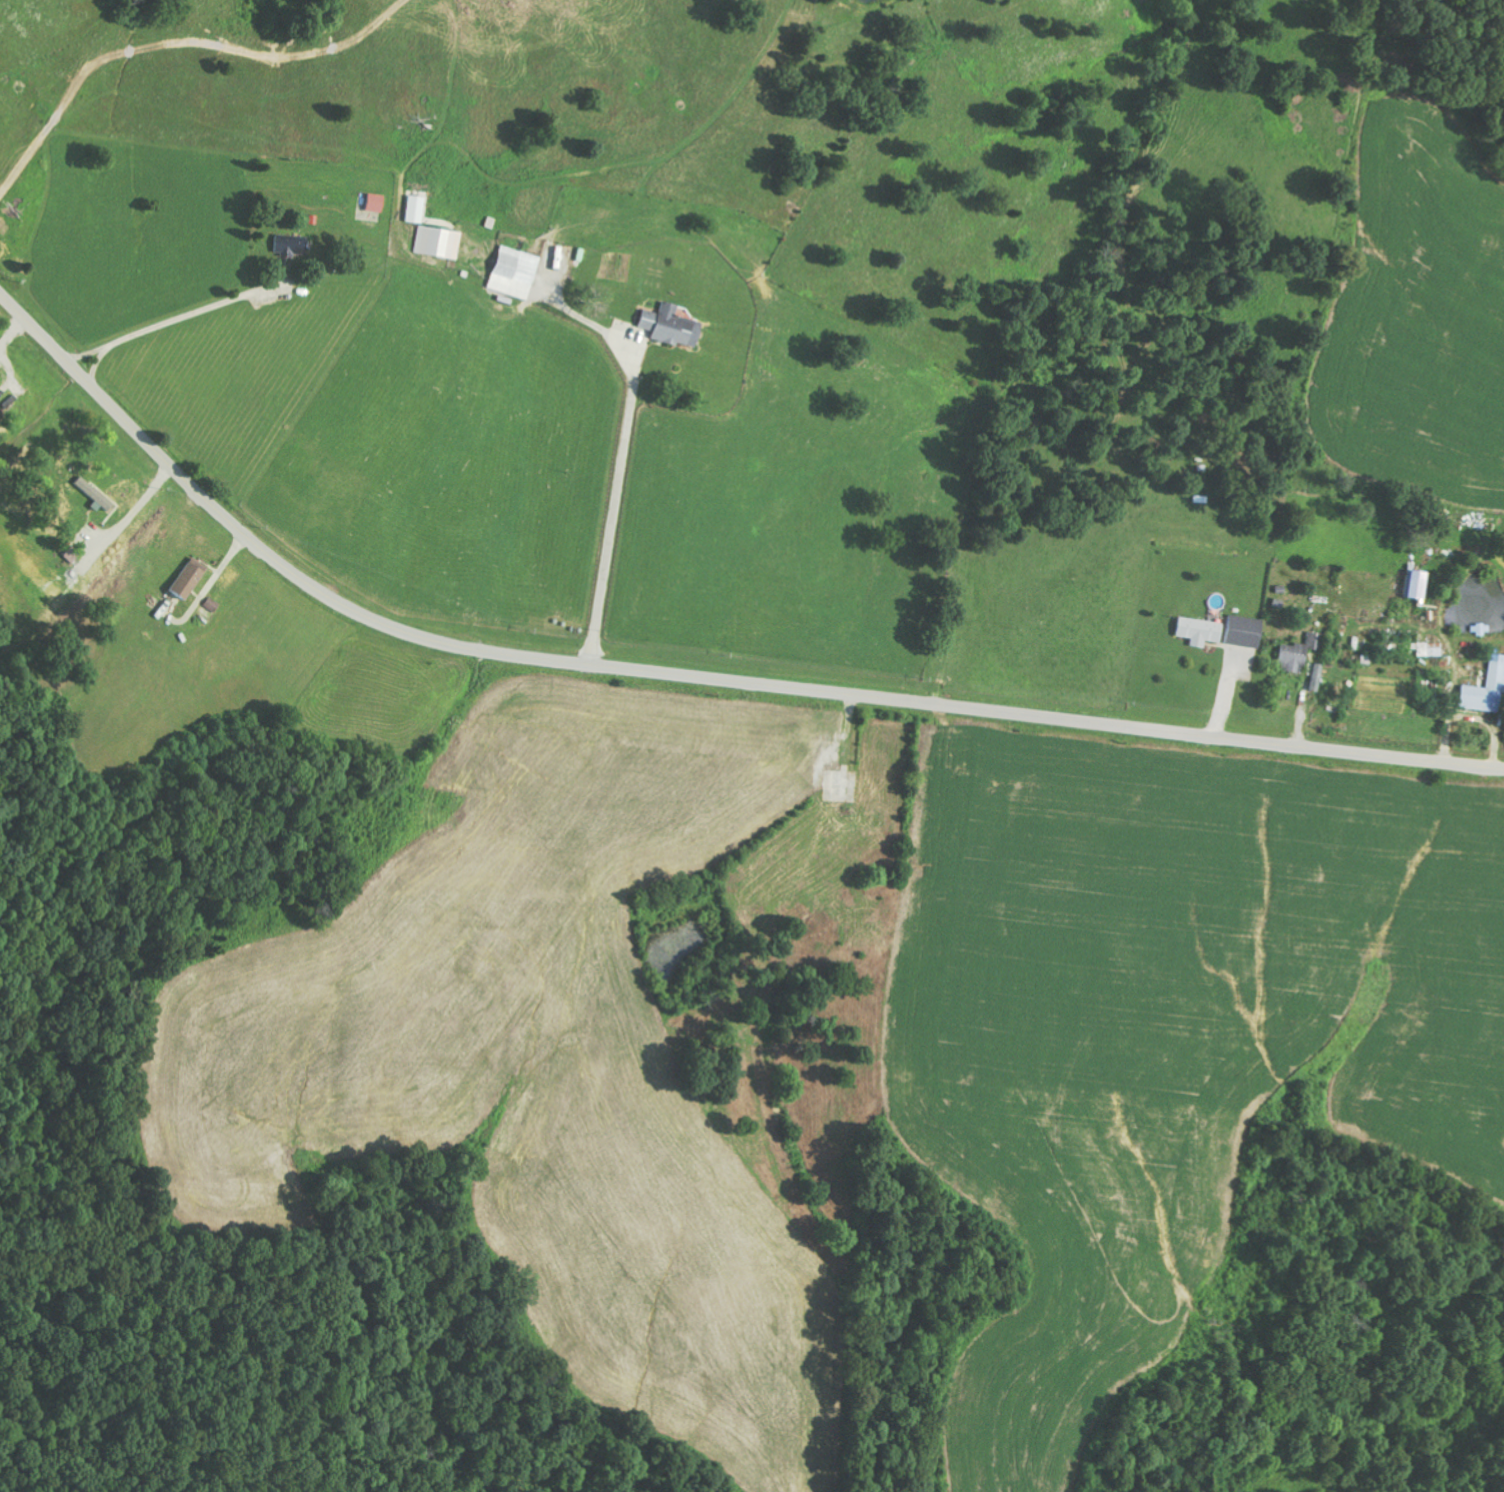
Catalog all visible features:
building: (371, 203)
building: (411, 209)
building: (435, 243)
building: (284, 246)
building: (510, 272)
building: (666, 326)
building: (183, 578)
building: (1413, 584)
building: (1193, 631)
building: (1238, 631)
building: (1424, 649)
building: (1293, 654)
road: (688, 675)
building: (1312, 677)
building: (1482, 687)

